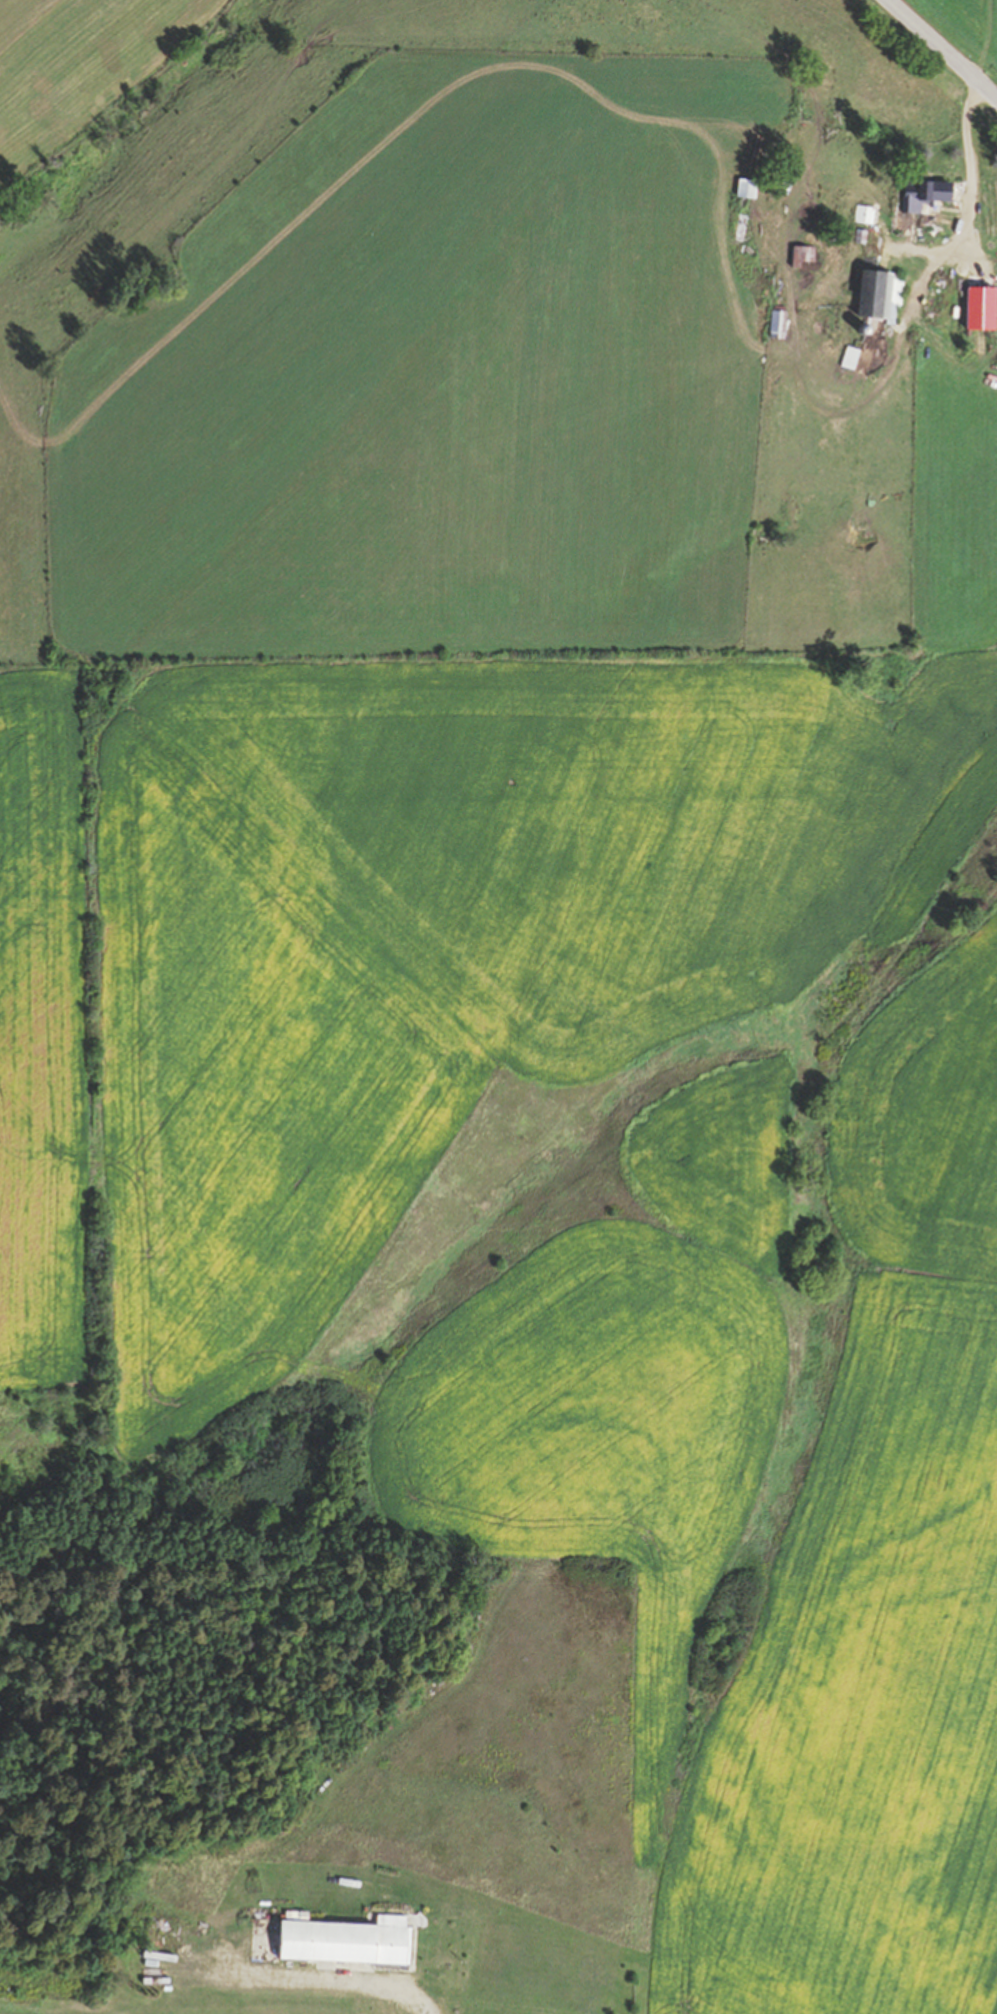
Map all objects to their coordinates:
road: (944, 48)
building: (925, 193)
road: (967, 213)
building: (866, 216)
building: (930, 232)
building: (862, 236)
road: (908, 251)
building: (804, 256)
building: (883, 293)
building: (779, 323)
building: (853, 357)
road: (841, 412)
building: (350, 1942)

